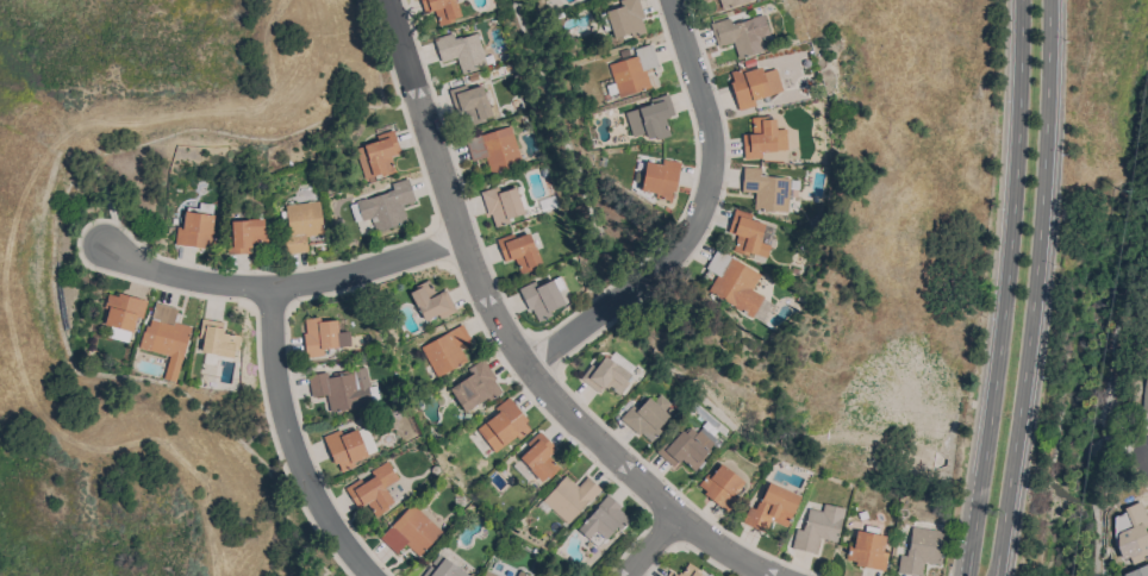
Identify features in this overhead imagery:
building: (729, 2)
building: (441, 10)
building: (623, 19)
building: (741, 35)
building: (461, 51)
building: (632, 70)
building: (753, 86)
building: (470, 102)
building: (650, 118)
building: (762, 138)
building: (494, 150)
building: (378, 154)
building: (660, 179)
building: (767, 189)
building: (960, 196)
building: (501, 205)
building: (383, 207)
road: (695, 219)
building: (301, 225)
building: (195, 227)
building: (744, 232)
building: (245, 236)
building: (518, 251)
park: (1138, 255)
building: (732, 282)
road: (283, 287)
road: (1004, 288)
road: (1032, 288)
building: (542, 298)
building: (431, 301)
building: (121, 315)
building: (164, 333)
road: (507, 336)
building: (322, 337)
building: (217, 339)
building: (445, 351)
building: (605, 376)
building: (475, 387)
building: (342, 389)
building: (1144, 392)
building: (647, 417)
building: (503, 426)
road: (291, 443)
building: (687, 447)
building: (344, 449)
building: (536, 459)
building: (720, 487)
building: (375, 490)
building: (569, 497)
building: (770, 508)
building: (603, 521)
building: (818, 528)
building: (410, 532)
building: (1135, 537)
road: (650, 545)
park: (1080, 546)
building: (867, 550)
building: (921, 551)
building: (442, 568)
building: (688, 571)
building: (1138, 571)
building: (487, 574)
building: (522, 574)
building: (670, 574)
building: (494, 575)

